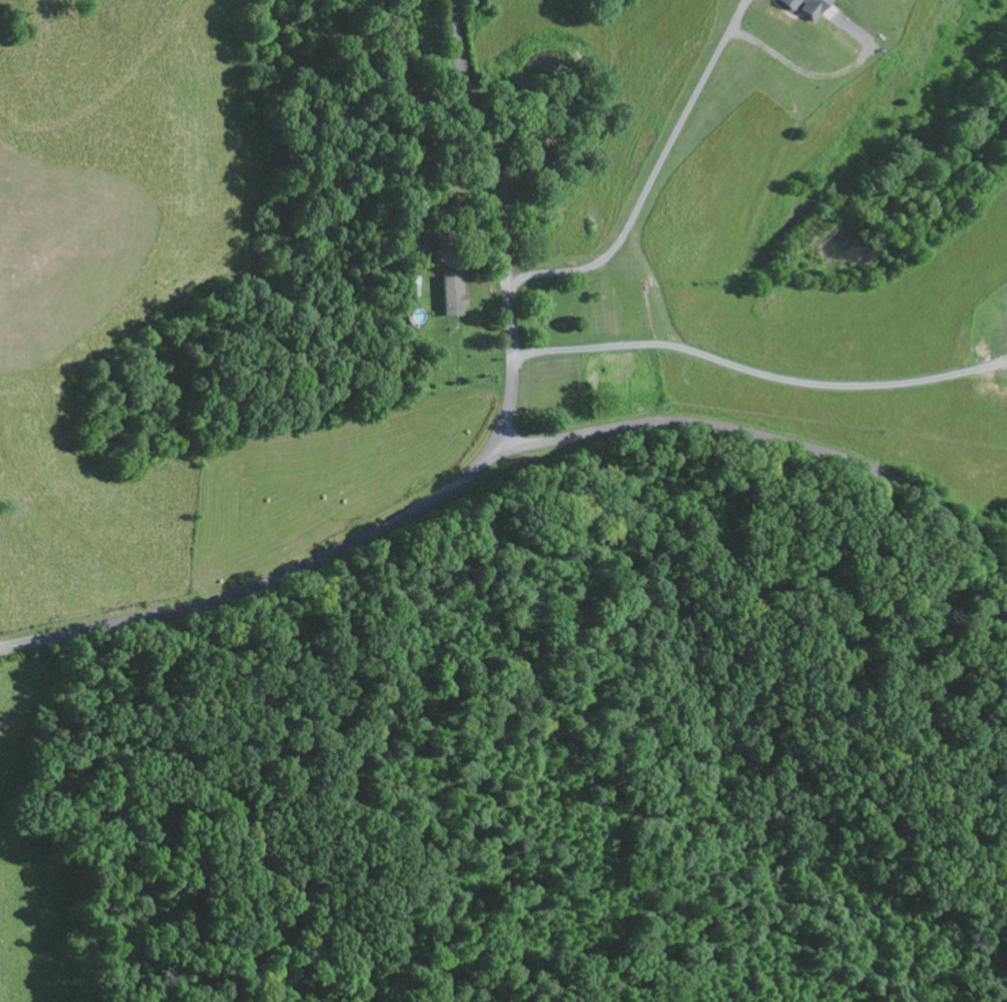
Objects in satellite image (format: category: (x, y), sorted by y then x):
building: (807, 7)
building: (454, 298)
road: (767, 435)
road: (461, 474)

